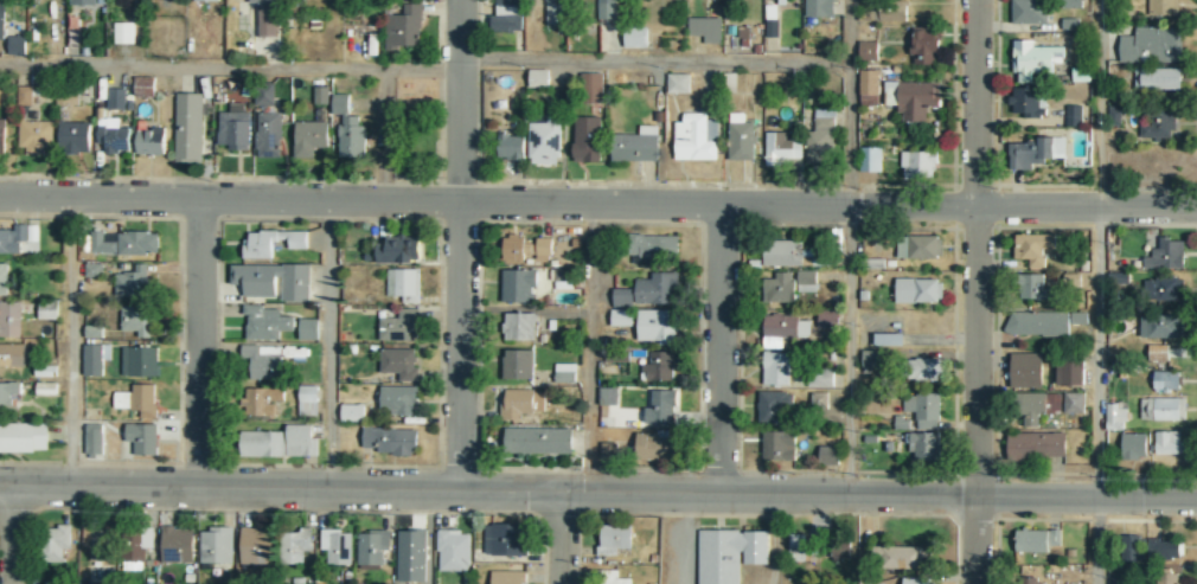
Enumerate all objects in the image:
building: (206, 0)
building: (776, 0)
building: (265, 1)
building: (83, 2)
building: (510, 4)
building: (819, 7)
building: (1161, 7)
building: (607, 9)
building: (1029, 11)
building: (892, 12)
building: (556, 14)
building: (2, 19)
building: (267, 20)
building: (770, 20)
building: (506, 23)
building: (403, 27)
building: (705, 28)
building: (122, 32)
building: (635, 37)
building: (15, 45)
building: (1151, 45)
building: (926, 46)
building: (868, 51)
building: (1033, 59)
road: (428, 73)
building: (538, 77)
building: (1157, 78)
building: (678, 83)
building: (143, 86)
building: (594, 86)
building: (868, 86)
building: (27, 95)
building: (263, 95)
building: (320, 95)
building: (115, 98)
building: (916, 100)
road: (851, 102)
building: (1029, 102)
building: (1074, 115)
building: (1158, 124)
building: (187, 127)
building: (233, 128)
building: (348, 129)
building: (2, 134)
building: (268, 135)
building: (36, 136)
building: (75, 136)
building: (820, 136)
building: (113, 137)
building: (308, 137)
building: (696, 137)
building: (742, 137)
building: (148, 140)
building: (587, 140)
building: (544, 142)
building: (636, 145)
building: (511, 147)
building: (781, 148)
building: (1033, 152)
building: (869, 159)
building: (918, 165)
road: (425, 200)
road: (1024, 205)
building: (17, 237)
building: (124, 243)
building: (271, 245)
road: (460, 245)
building: (654, 245)
building: (918, 246)
building: (1032, 248)
building: (526, 249)
road: (1100, 249)
building: (399, 250)
building: (1163, 252)
building: (783, 254)
building: (875, 263)
building: (94, 270)
building: (4, 278)
building: (563, 278)
building: (133, 282)
building: (296, 284)
building: (789, 284)
building: (407, 288)
building: (518, 288)
building: (1035, 288)
building: (657, 289)
building: (1165, 289)
building: (918, 290)
road: (978, 291)
building: (622, 297)
building: (47, 310)
building: (621, 317)
building: (827, 319)
building: (9, 320)
building: (137, 320)
building: (1043, 322)
building: (265, 323)
building: (658, 326)
building: (785, 326)
building: (1161, 326)
building: (308, 329)
building: (399, 329)
building: (519, 329)
building: (94, 332)
building: (889, 339)
road: (73, 341)
road: (199, 344)
road: (331, 345)
road: (721, 346)
road: (851, 348)
road: (591, 349)
building: (1158, 352)
building: (12, 355)
building: (96, 358)
building: (870, 360)
building: (139, 361)
building: (262, 362)
building: (399, 366)
building: (518, 366)
building: (660, 366)
building: (775, 368)
building: (927, 368)
building: (1026, 370)
building: (45, 371)
building: (1070, 372)
building: (564, 373)
building: (821, 378)
building: (1166, 380)
building: (46, 389)
building: (608, 396)
building: (137, 399)
building: (264, 400)
building: (307, 400)
building: (398, 400)
building: (818, 400)
building: (1074, 403)
building: (773, 405)
building: (516, 406)
building: (661, 406)
building: (1039, 406)
building: (923, 409)
building: (1161, 409)
building: (352, 412)
building: (1115, 416)
building: (902, 423)
building: (24, 437)
building: (94, 437)
building: (142, 437)
building: (391, 441)
building: (280, 442)
building: (1166, 442)
building: (536, 444)
building: (1036, 444)
building: (657, 445)
building: (777, 445)
building: (1133, 445)
building: (926, 447)
building: (828, 455)
road: (550, 492)
road: (1148, 496)
road: (13, 535)
road: (558, 535)
building: (614, 539)
building: (508, 540)
building: (1037, 540)
road: (1099, 540)
building: (57, 543)
building: (177, 545)
building: (216, 545)
building: (256, 545)
building: (296, 545)
building: (798, 545)
building: (337, 546)
building: (373, 547)
building: (841, 548)
building: (1165, 548)
building: (139, 551)
building: (454, 551)
building: (1134, 551)
building: (729, 554)
building: (411, 556)
building: (902, 556)
building: (507, 577)
building: (613, 578)
building: (1166, 578)
building: (918, 580)

